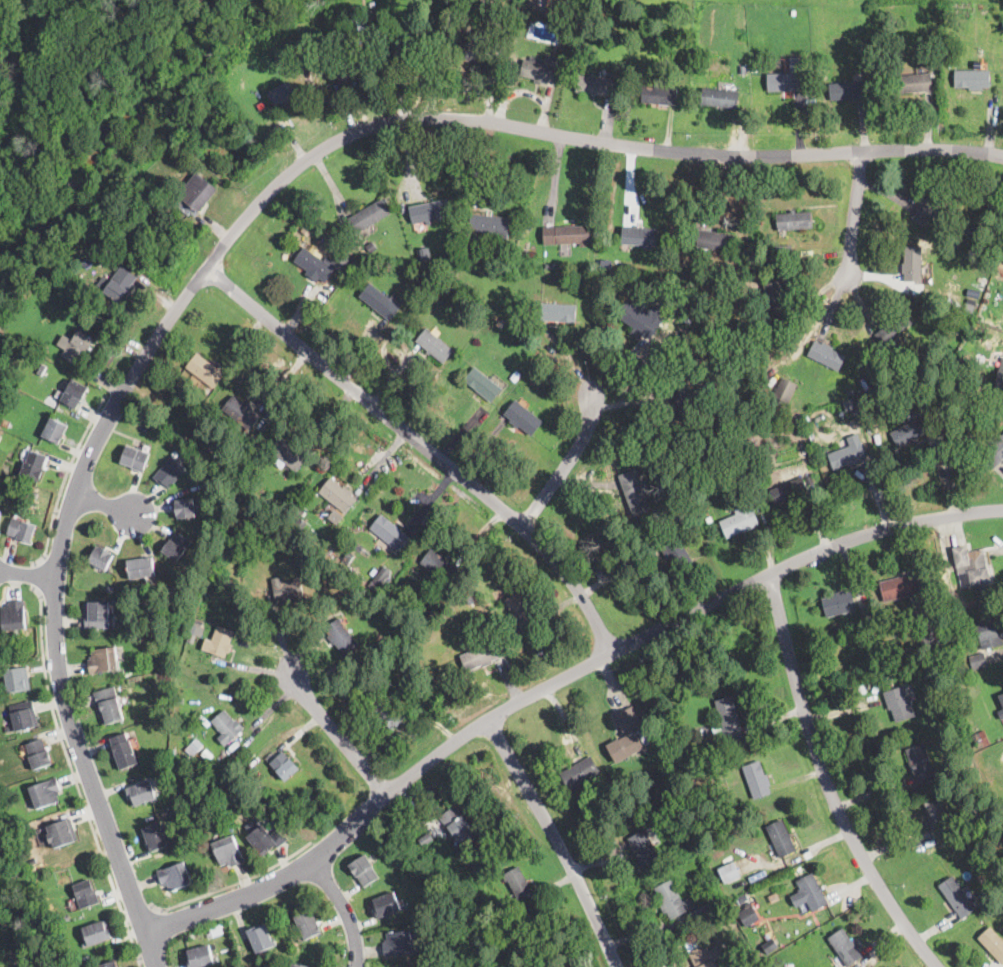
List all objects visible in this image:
building: (555, 8)
building: (794, 13)
building: (357, 20)
building: (408, 51)
building: (480, 54)
building: (307, 57)
building: (868, 65)
building: (348, 69)
building: (541, 70)
building: (743, 70)
building: (787, 78)
building: (972, 79)
building: (913, 83)
building: (595, 84)
building: (847, 91)
building: (284, 96)
building: (659, 96)
building: (719, 99)
building: (197, 192)
building: (929, 208)
building: (430, 211)
road: (854, 215)
building: (368, 216)
building: (794, 220)
road: (237, 225)
building: (490, 225)
building: (969, 229)
building: (568, 235)
building: (637, 236)
building: (714, 241)
building: (352, 244)
building: (95, 245)
building: (371, 247)
building: (783, 252)
building: (424, 255)
building: (343, 258)
building: (447, 259)
building: (1002, 260)
building: (912, 264)
building: (314, 265)
building: (549, 266)
building: (626, 267)
building: (1000, 268)
building: (686, 275)
building: (603, 280)
building: (421, 283)
building: (121, 284)
building: (335, 284)
building: (455, 301)
building: (775, 301)
building: (379, 302)
building: (970, 307)
building: (558, 312)
building: (697, 314)
building: (639, 322)
building: (500, 323)
building: (974, 327)
building: (894, 328)
building: (983, 330)
building: (672, 332)
building: (755, 339)
building: (435, 345)
building: (76, 346)
building: (826, 355)
building: (42, 368)
building: (205, 370)
building: (515, 377)
building: (1000, 377)
building: (533, 381)
building: (483, 385)
building: (785, 390)
building: (208, 391)
building: (75, 394)
building: (886, 398)
building: (731, 401)
building: (683, 402)
building: (864, 408)
building: (241, 412)
building: (523, 418)
building: (5, 422)
building: (763, 429)
building: (910, 429)
building: (56, 430)
road: (424, 445)
building: (994, 449)
building: (749, 452)
building: (848, 453)
building: (288, 454)
building: (135, 458)
building: (205, 460)
road: (568, 463)
building: (34, 465)
road: (68, 471)
building: (170, 471)
building: (809, 480)
building: (249, 483)
building: (259, 486)
building: (788, 491)
building: (635, 493)
building: (35, 495)
building: (338, 495)
building: (693, 496)
road: (107, 504)
building: (186, 507)
building: (298, 509)
building: (0, 516)
building: (336, 516)
building: (677, 518)
building: (709, 519)
building: (740, 519)
building: (302, 523)
building: (22, 531)
building: (389, 532)
building: (332, 543)
building: (176, 546)
building: (675, 551)
building: (101, 557)
building: (348, 557)
building: (439, 566)
building: (141, 567)
building: (973, 568)
road: (618, 570)
road: (28, 575)
building: (383, 575)
road: (34, 576)
building: (900, 587)
building: (287, 590)
building: (396, 592)
building: (950, 598)
building: (470, 599)
building: (838, 604)
building: (521, 611)
building: (98, 615)
building: (14, 616)
building: (193, 621)
building: (401, 626)
building: (989, 635)
building: (341, 636)
building: (193, 637)
building: (219, 642)
building: (930, 656)
building: (480, 657)
building: (103, 660)
building: (977, 661)
building: (17, 679)
road: (554, 681)
building: (166, 686)
building: (1001, 699)
building: (431, 704)
building: (899, 704)
building: (109, 705)
building: (388, 711)
building: (1001, 714)
building: (24, 715)
building: (728, 721)
building: (227, 727)
road: (338, 733)
building: (627, 735)
building: (645, 738)
building: (981, 739)
building: (670, 741)
building: (663, 746)
building: (194, 747)
building: (124, 751)
building: (39, 754)
building: (207, 755)
building: (970, 762)
building: (919, 763)
building: (284, 766)
building: (579, 773)
road: (75, 778)
building: (756, 780)
road: (829, 781)
building: (258, 788)
building: (46, 792)
building: (142, 793)
building: (10, 801)
building: (589, 809)
building: (937, 819)
building: (989, 819)
building: (679, 821)
building: (458, 827)
building: (723, 831)
building: (61, 833)
building: (156, 836)
building: (427, 838)
building: (781, 839)
building: (266, 840)
road: (557, 840)
building: (412, 847)
building: (643, 848)
building: (228, 851)
building: (698, 854)
building: (426, 858)
building: (33, 862)
building: (364, 870)
building: (729, 871)
building: (765, 875)
building: (175, 876)
building: (518, 883)
building: (728, 883)
road: (233, 884)
building: (809, 893)
building: (86, 894)
building: (732, 896)
building: (957, 897)
building: (742, 898)
building: (672, 900)
building: (387, 905)
road: (344, 911)
road: (138, 912)
building: (704, 915)
building: (749, 916)
building: (65, 918)
building: (309, 924)
building: (219, 925)
building: (98, 932)
building: (261, 938)
building: (398, 943)
building: (992, 943)
building: (772, 944)
building: (846, 947)
building: (703, 954)
building: (200, 956)
building: (108, 964)
building: (77, 965)
building: (299, 966)

